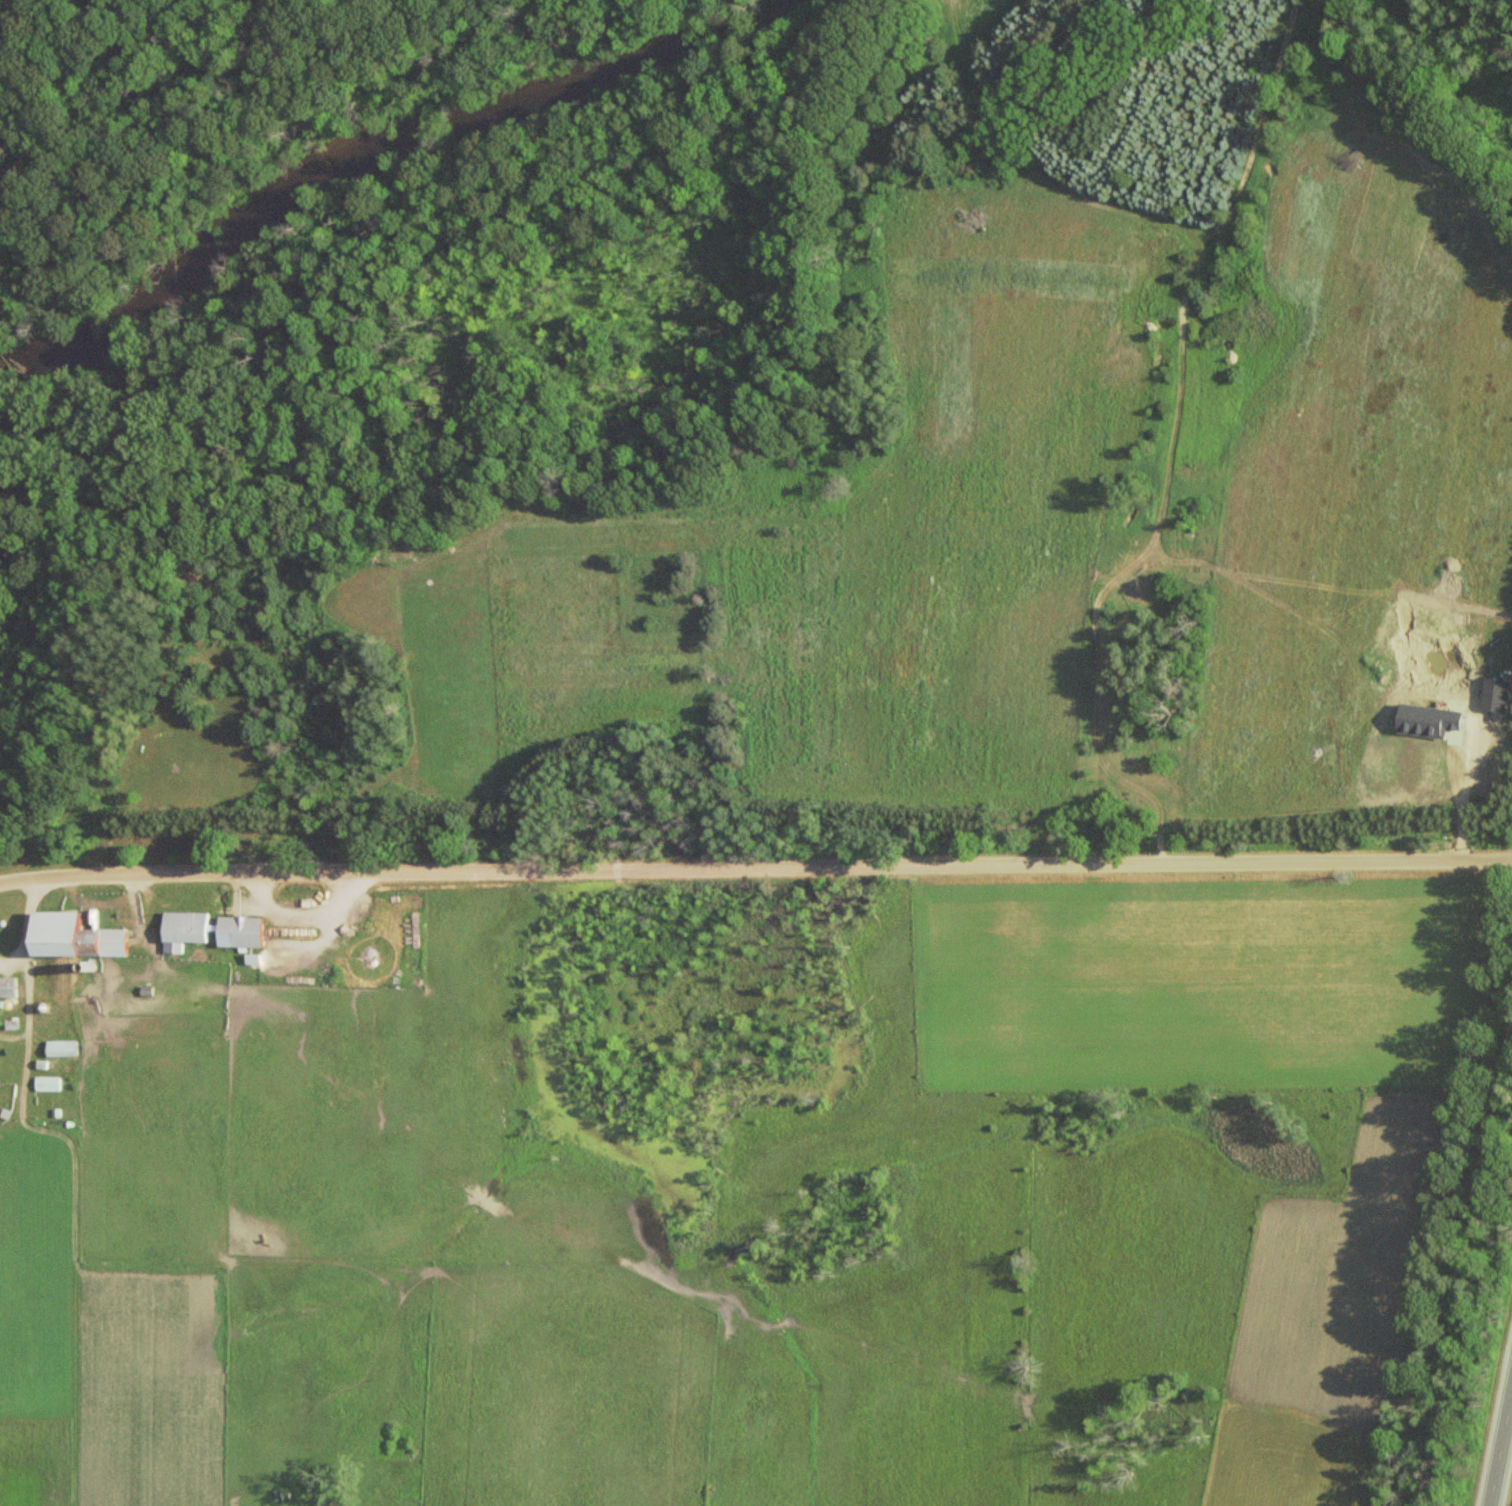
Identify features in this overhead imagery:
river: (370, 143)
road: (1464, 797)
road: (755, 871)
building: (89, 920)
building: (180, 931)
building: (235, 932)
building: (66, 937)
road: (14, 963)
road: (26, 982)
building: (6, 988)
road: (1469, 1266)
road: (1500, 1447)

